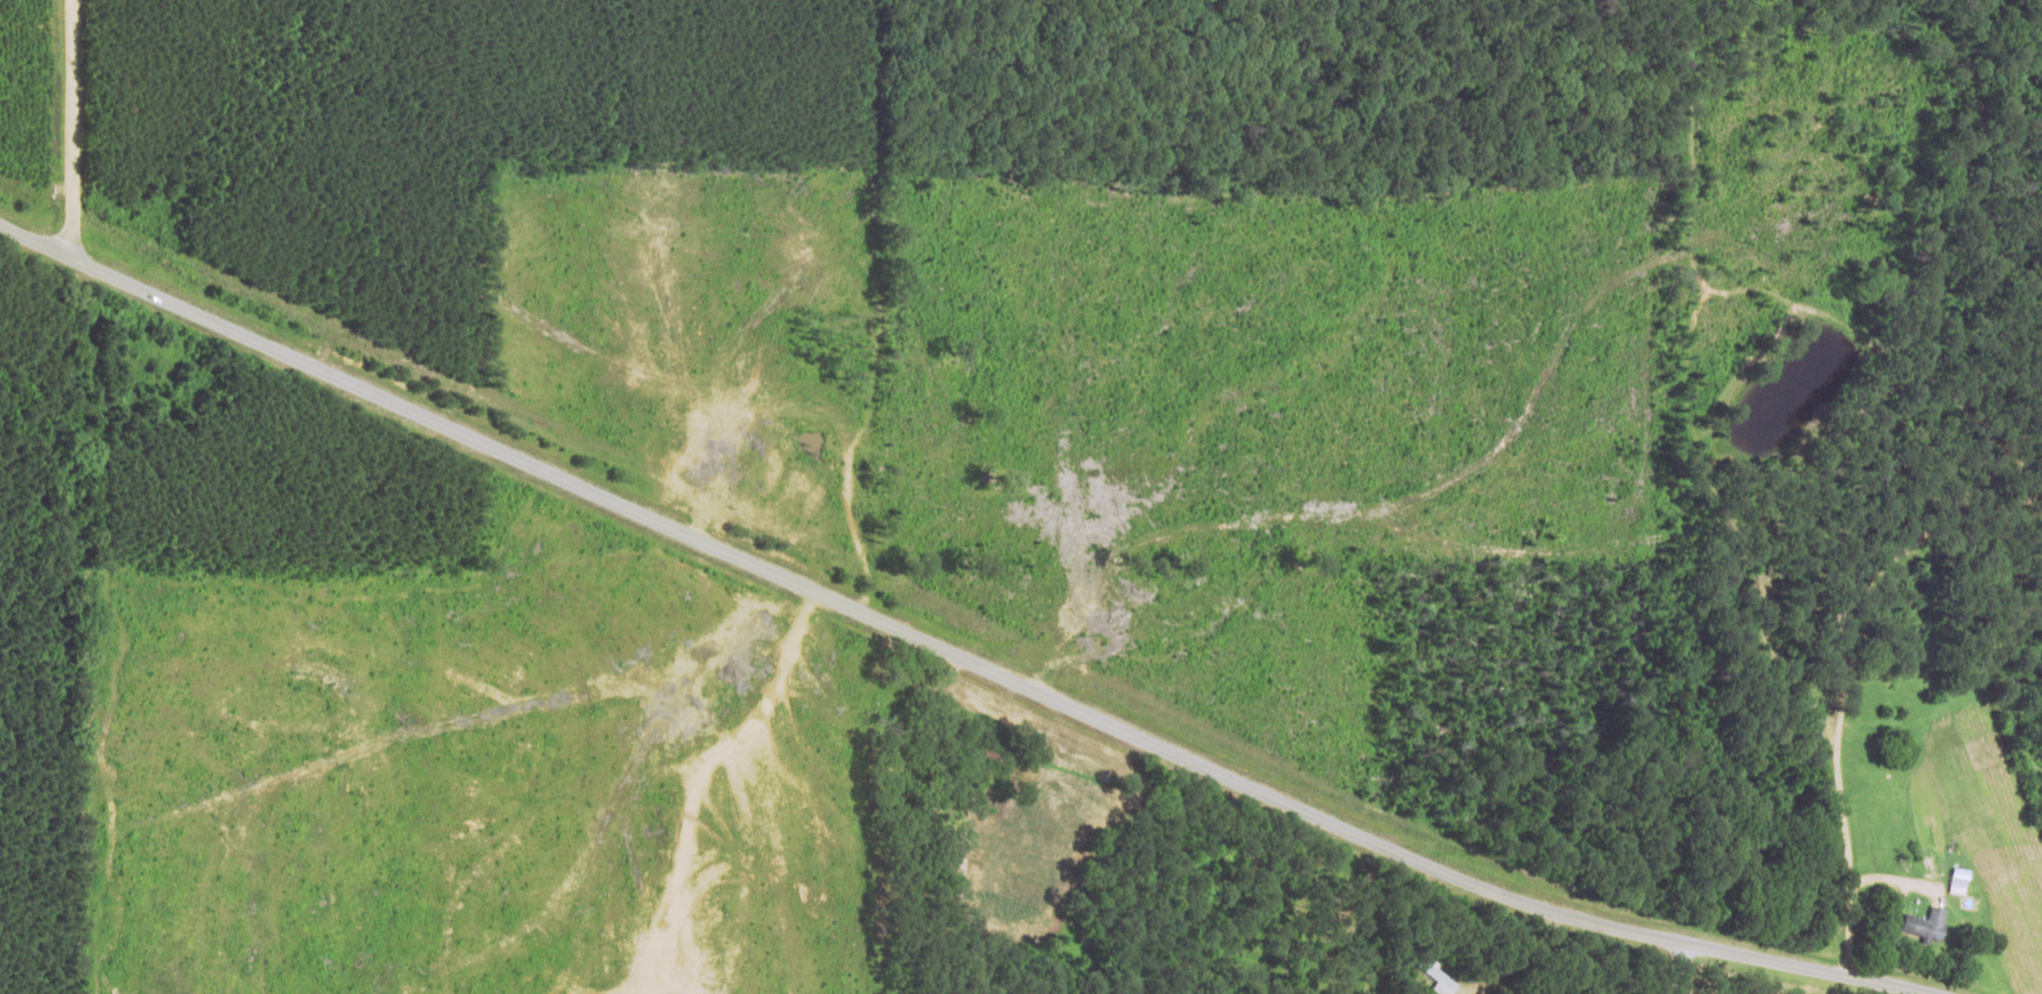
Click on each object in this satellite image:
road: (92, 131)
road: (44, 244)
road: (933, 657)
road: (431, 719)
road: (1933, 812)
road: (890, 820)
road: (1071, 859)
building: (1925, 921)

